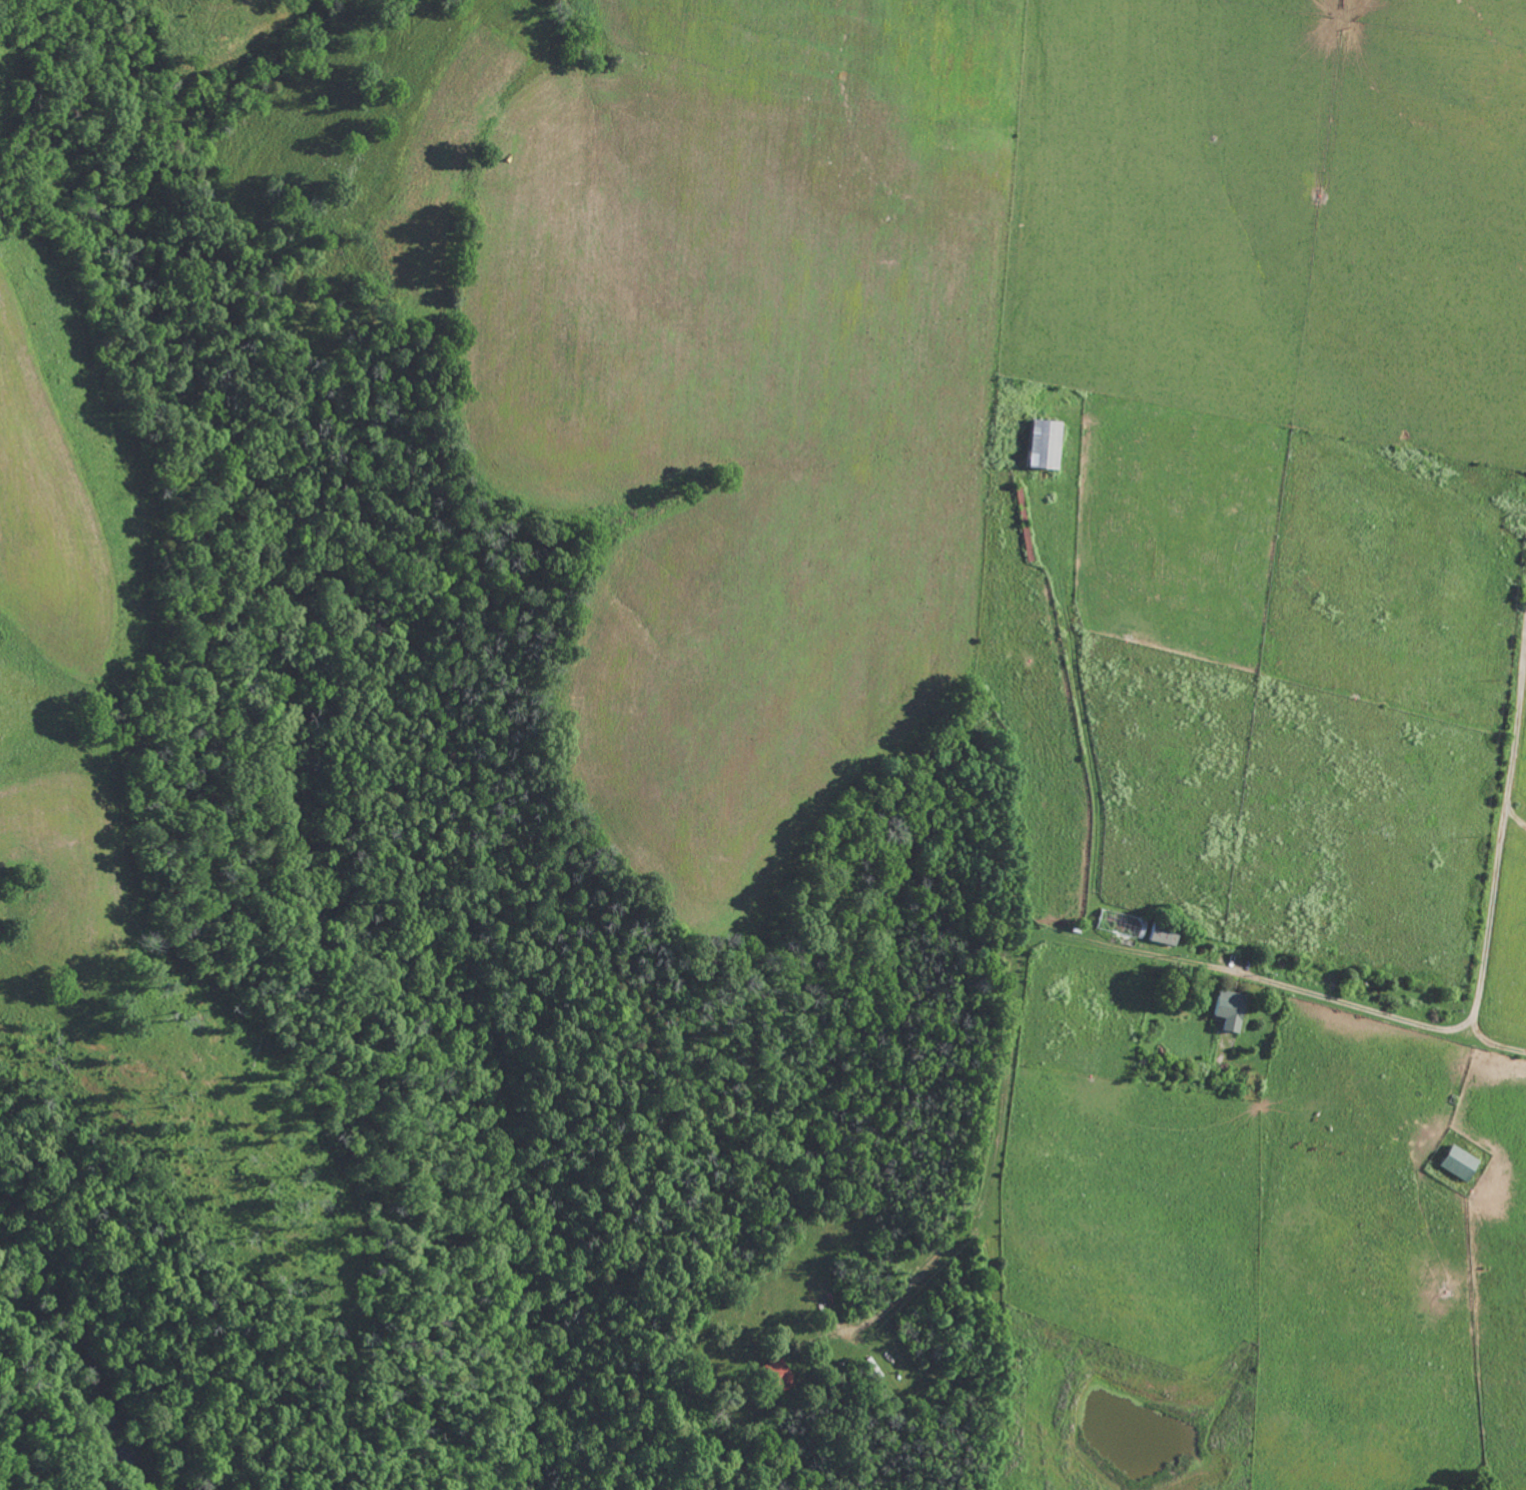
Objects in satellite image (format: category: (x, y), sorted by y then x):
road: (1502, 843)
building: (1137, 930)
building: (1227, 1011)
building: (1453, 1164)

